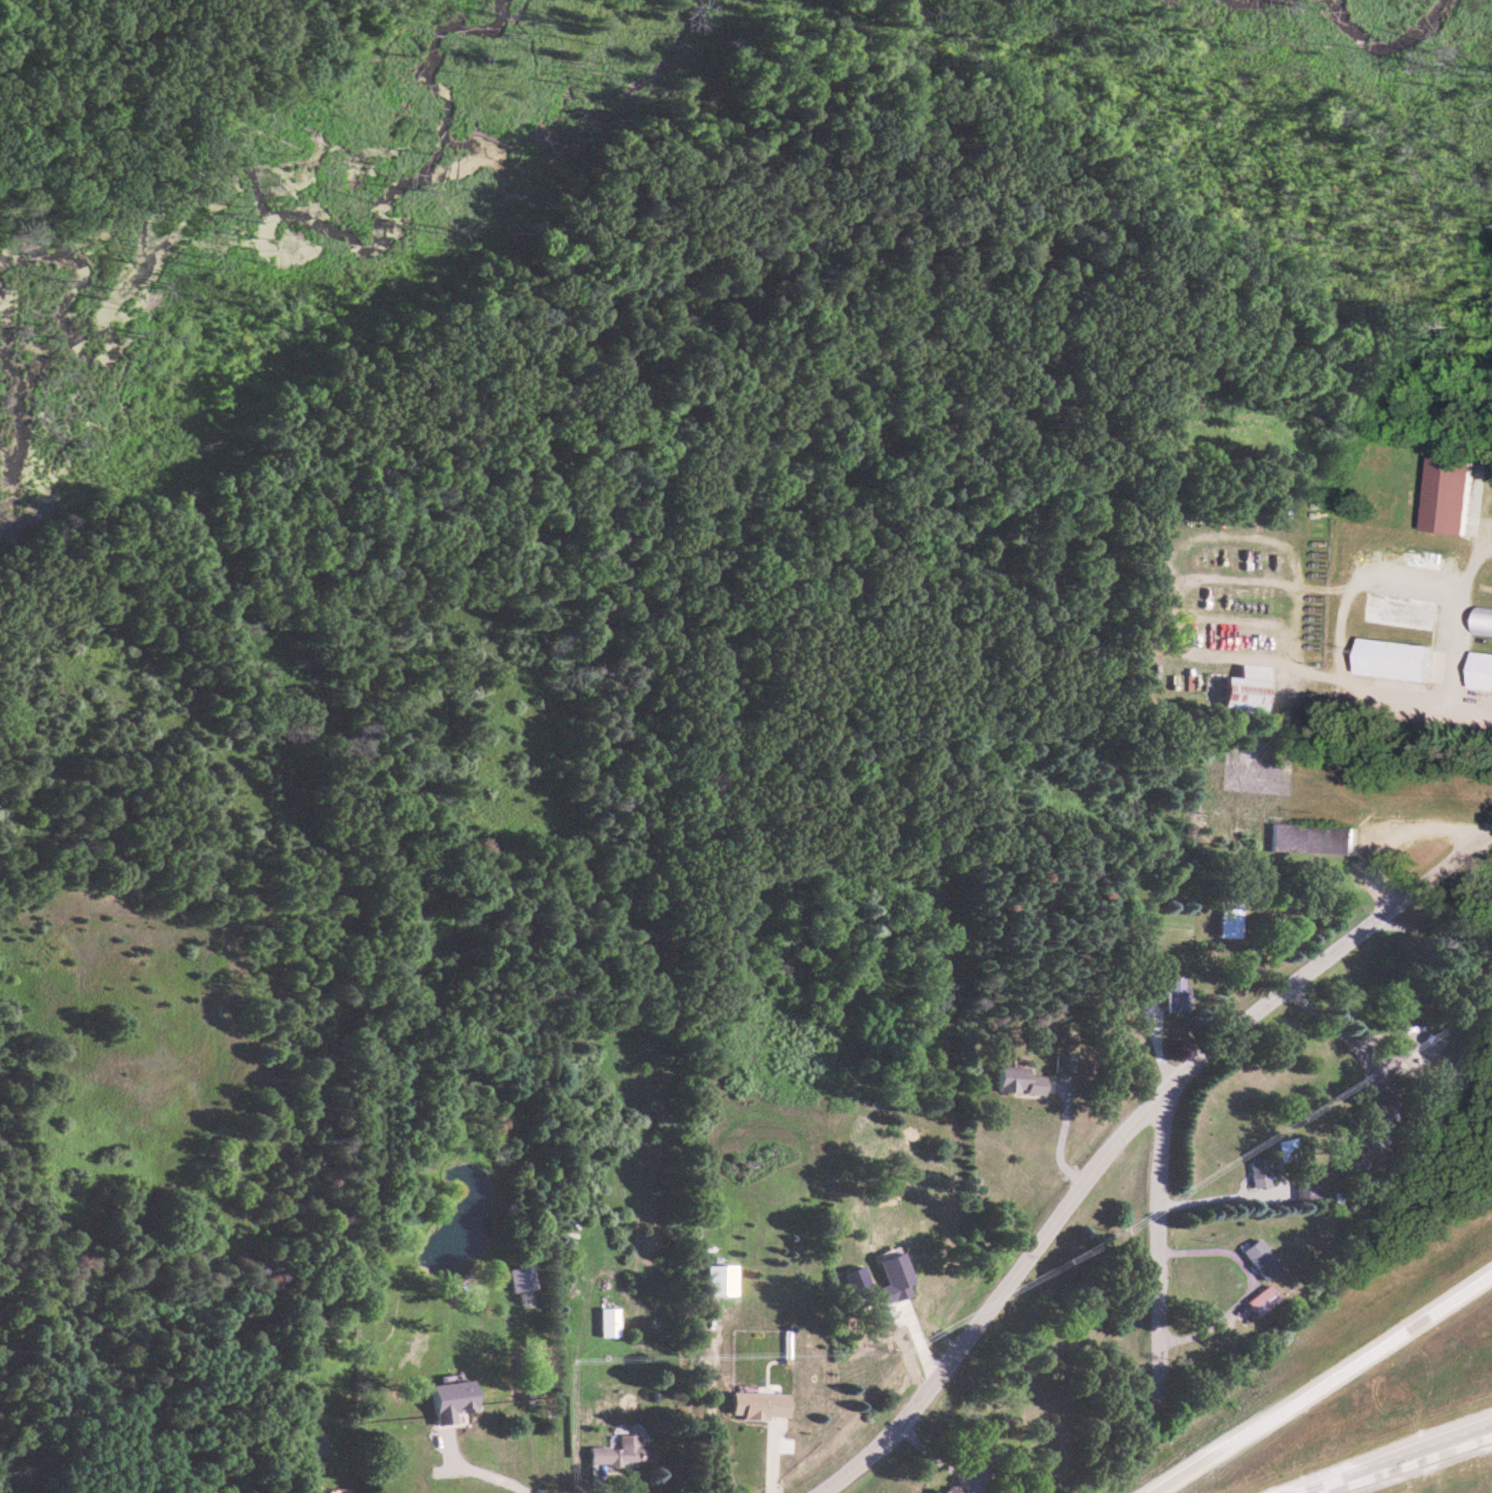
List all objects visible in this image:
road: (78, 40)
building: (1446, 494)
building: (1424, 558)
building: (1399, 610)
building: (1484, 620)
building: (1392, 658)
building: (1480, 670)
building: (1244, 691)
building: (1309, 838)
building: (1226, 920)
building: (1175, 994)
road: (1337, 1032)
building: (1455, 1075)
building: (1016, 1081)
building: (1379, 1111)
road: (1122, 1128)
building: (1289, 1150)
building: (1259, 1172)
building: (1307, 1187)
road: (1218, 1194)
road: (1153, 1247)
building: (1260, 1259)
building: (520, 1278)
building: (718, 1279)
building: (1262, 1300)
building: (608, 1322)
road: (1321, 1378)
building: (448, 1400)
building: (757, 1405)
building: (313, 1443)
building: (620, 1451)
road: (1396, 1460)
road: (482, 1469)
building: (946, 1490)
building: (342, 1492)

